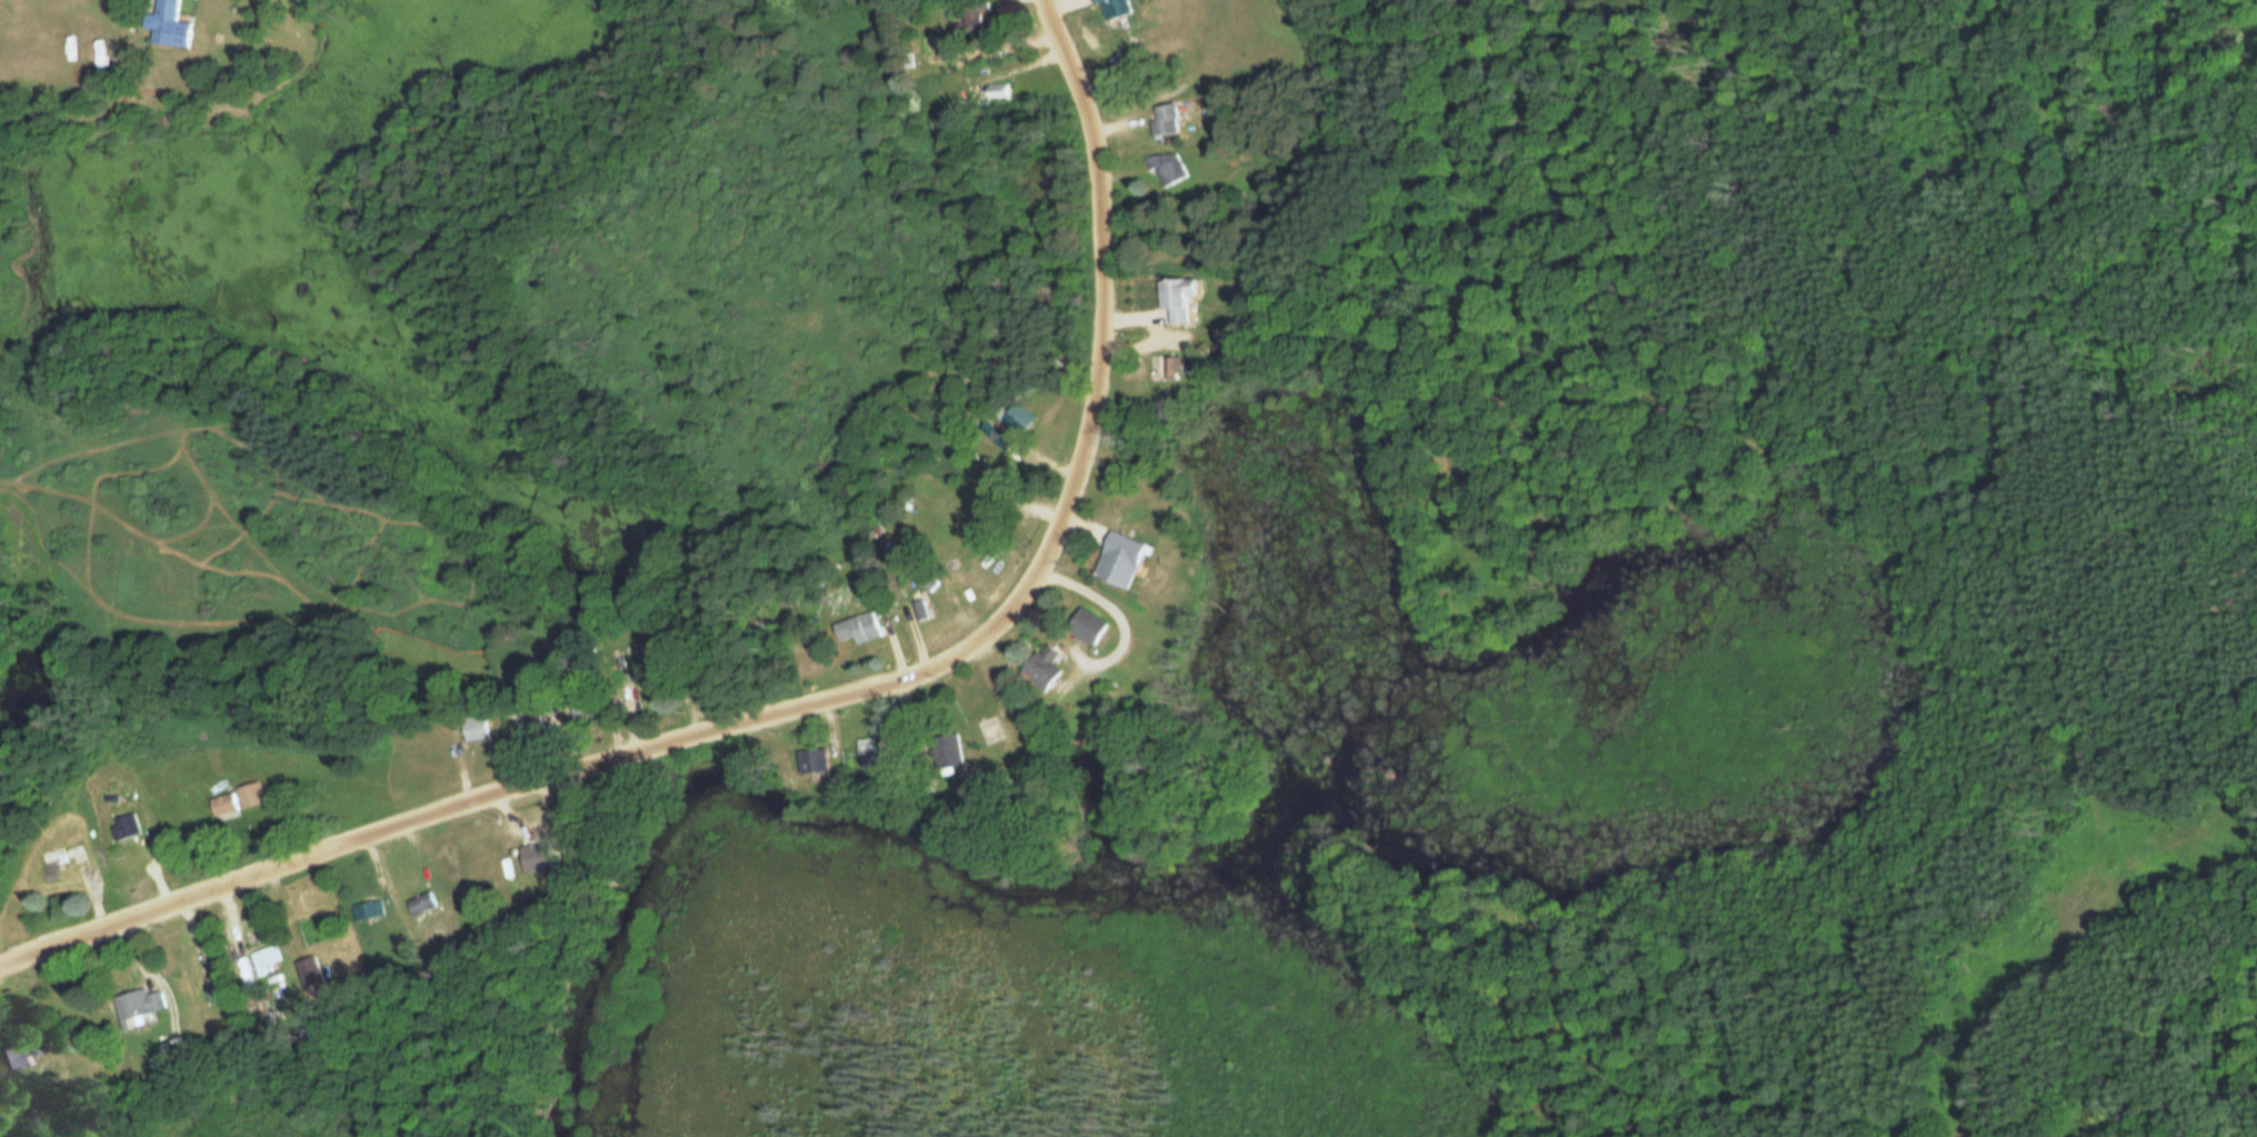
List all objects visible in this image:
building: (1092, 0)
building: (1113, 7)
building: (971, 14)
building: (168, 24)
building: (997, 90)
building: (1161, 118)
building: (1168, 169)
building: (1177, 300)
building: (1013, 417)
building: (1118, 559)
building: (1085, 626)
building: (858, 628)
building: (1039, 668)
road: (812, 694)
building: (531, 721)
building: (986, 726)
building: (473, 729)
building: (868, 750)
building: (945, 750)
building: (810, 761)
building: (234, 800)
building: (130, 828)
building: (532, 857)
building: (63, 860)
building: (420, 902)
building: (367, 910)
building: (264, 958)
building: (307, 970)
building: (213, 987)
building: (147, 1006)
building: (19, 1056)

